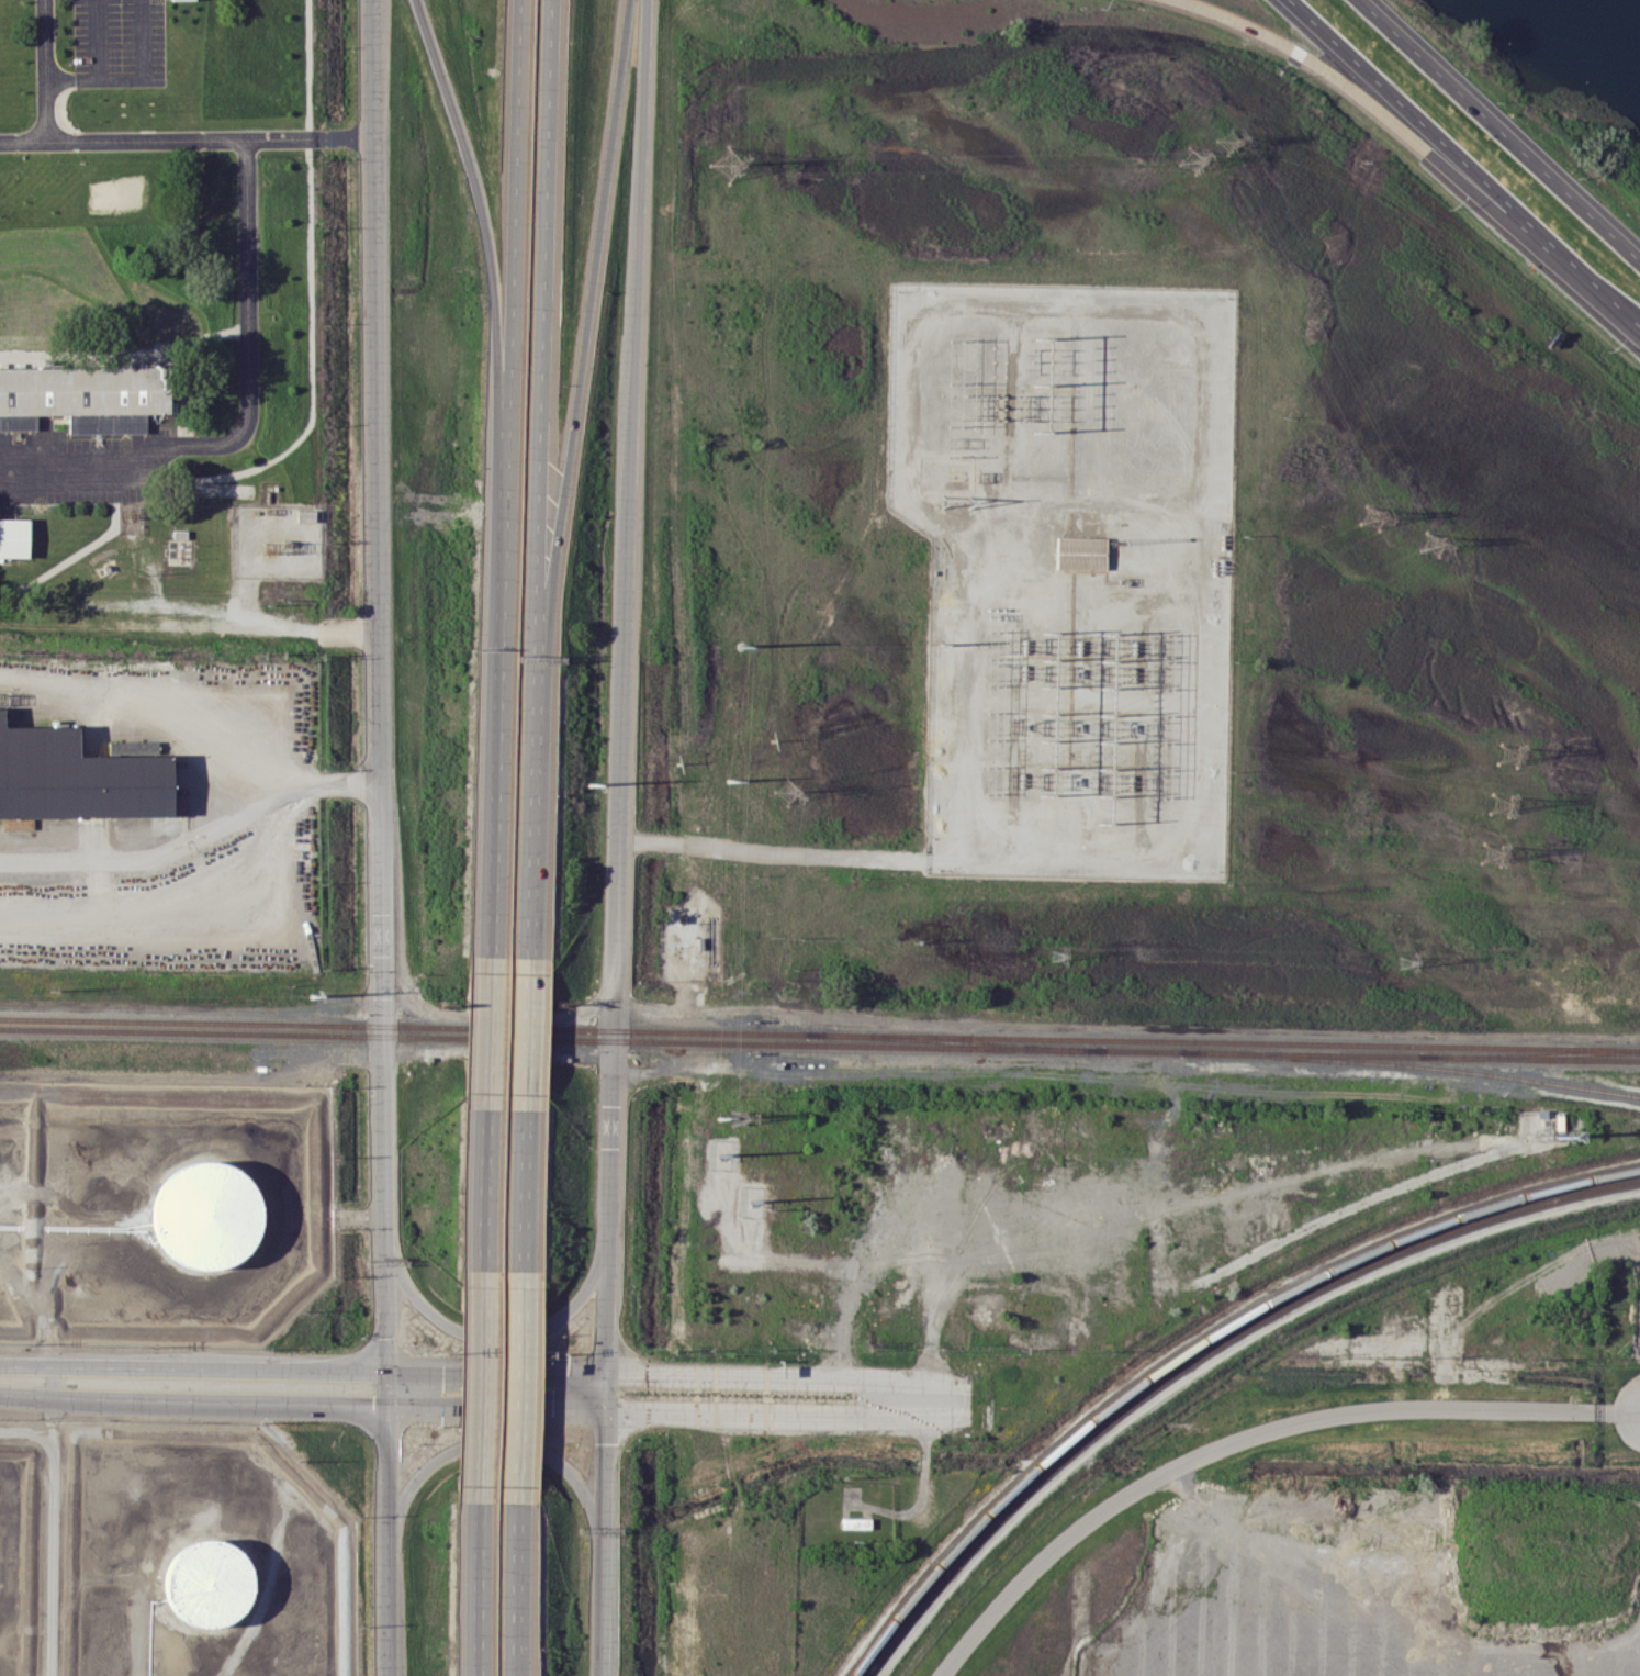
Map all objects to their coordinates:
building: (182, 0)
road: (97, 40)
parking lot: (120, 43)
road: (134, 79)
road: (1353, 89)
road: (1405, 104)
road: (1497, 132)
road: (23, 141)
road: (141, 141)
power tower: (1231, 142)
power tower: (1192, 160)
power tower: (729, 165)
road: (1576, 272)
road: (492, 302)
road: (512, 308)
road: (540, 368)
road: (584, 368)
building: (86, 398)
road: (250, 411)
building: (306, 515)
power tower: (1374, 517)
building: (14, 537)
power tower: (1435, 544)
building: (1080, 552)
power substation: (1070, 570)
road: (306, 627)
road: (165, 696)
road: (380, 701)
road: (624, 702)
power tower: (1510, 753)
building: (77, 776)
road: (495, 786)
power tower: (789, 792)
power tower: (1503, 803)
building: (19, 824)
road: (194, 838)
road: (531, 848)
road: (773, 849)
power tower: (1494, 853)
power tower: (1056, 956)
power tower: (1403, 962)
road: (487, 1035)
railway: (819, 1035)
road: (526, 1036)
railway: (955, 1042)
railway: (819, 1046)
railway: (1530, 1054)
railway: (1411, 1065)
road: (483, 1191)
road: (521, 1191)
building: (209, 1215)
storage tank: (209, 1215)
road: (493, 1336)
traffic signals: (384, 1337)
railway: (1195, 1343)
railway: (1204, 1351)
road: (192, 1366)
traffic signals: (442, 1372)
road: (495, 1372)
road: (625, 1375)
road: (783, 1377)
road: (481, 1385)
road: (518, 1385)
road: (192, 1397)
traffic signals: (373, 1400)
road: (495, 1403)
traffic signals: (552, 1404)
road: (626, 1405)
traffic signals: (660, 1406)
road: (784, 1408)
road: (26, 1432)
road: (1245, 1434)
traffic signals: (605, 1443)
road: (495, 1450)
road: (604, 1475)
road: (923, 1476)
building: (855, 1522)
road: (53, 1534)
road: (386, 1539)
building: (209, 1584)
storage tank: (209, 1584)
road: (482, 1588)
road: (515, 1588)
road: (604, 1596)
road: (604, 1661)

